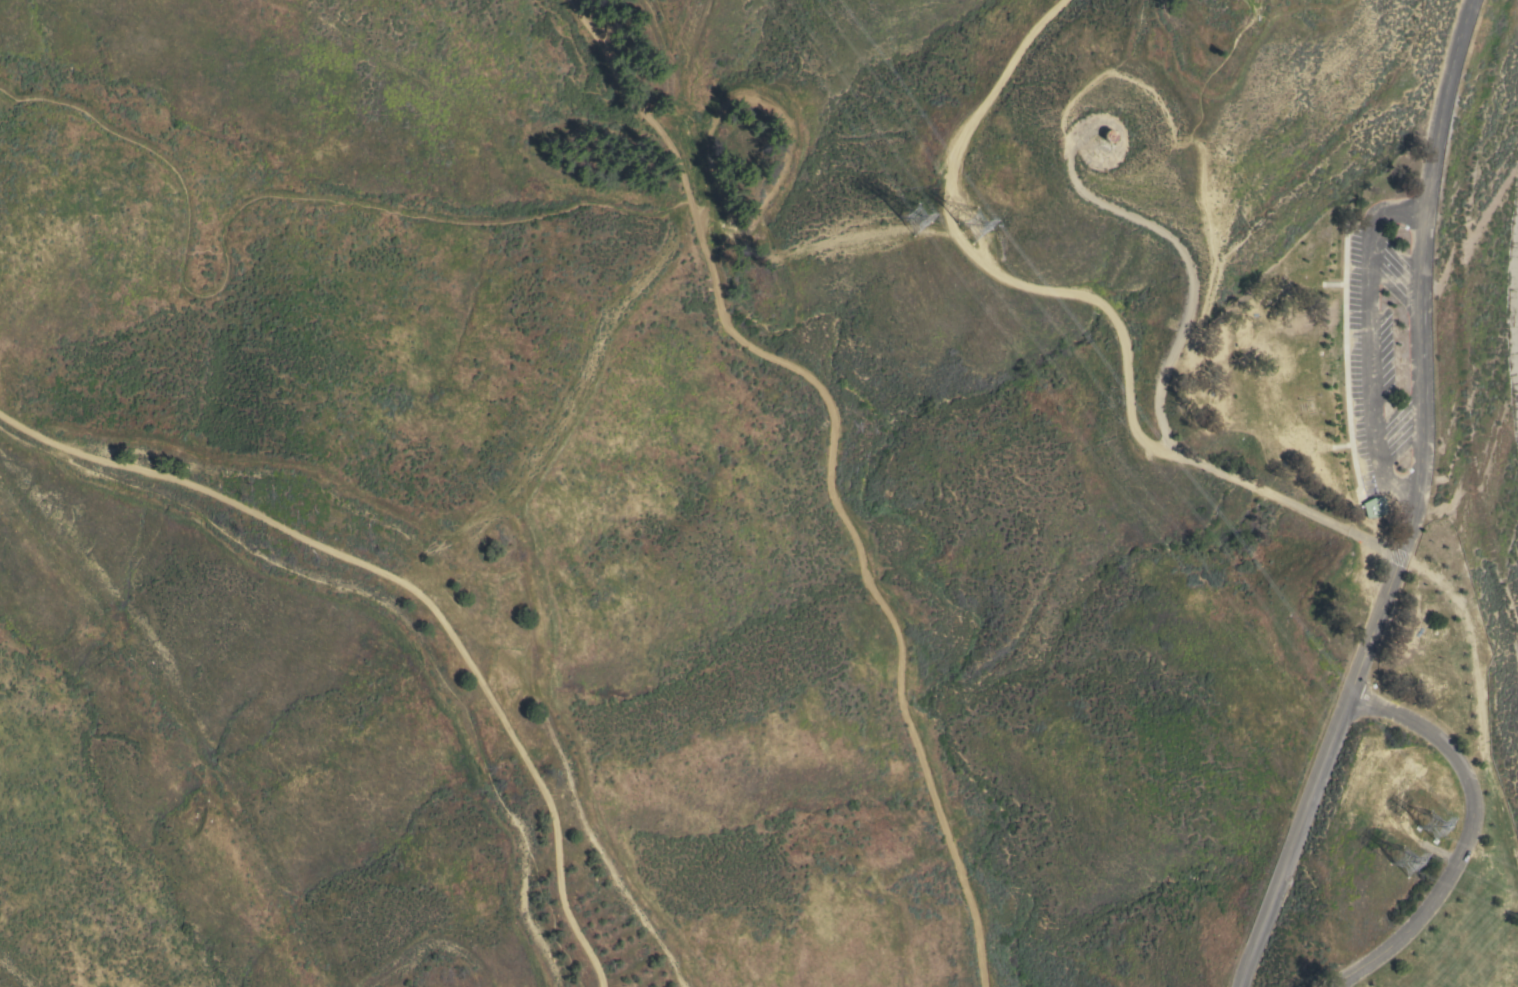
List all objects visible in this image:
road: (1169, 117)
storage tank: (1109, 136)
road: (237, 203)
road: (1379, 213)
power tower: (906, 221)
power tower: (959, 228)
road: (1206, 229)
road: (1185, 267)
road: (1092, 294)
parking lot: (1368, 336)
road: (1351, 354)
road: (826, 463)
road: (1390, 474)
road: (1408, 504)
building: (1374, 507)
park: (841, 509)
road: (415, 588)
road: (382, 614)
road: (1476, 694)
power tower: (1442, 826)
road: (1455, 833)
power tower: (1414, 867)

